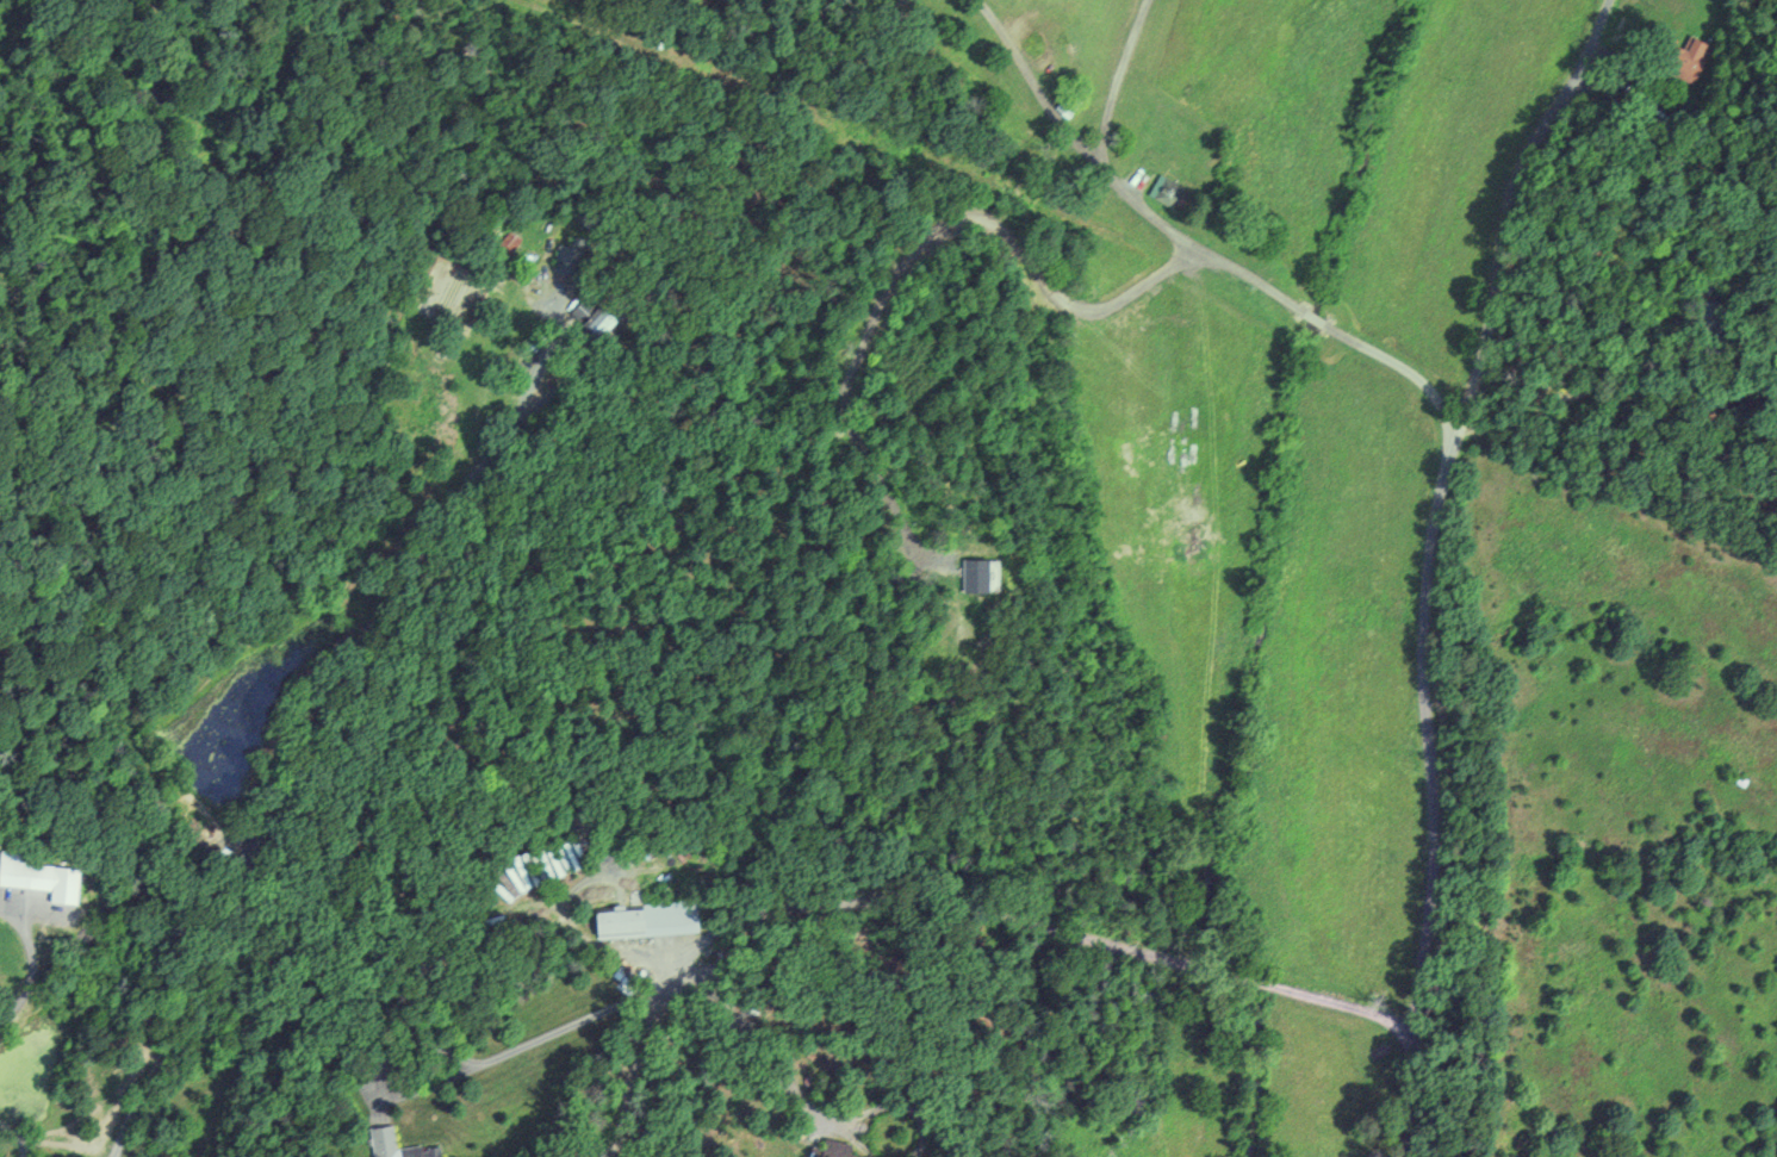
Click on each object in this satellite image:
road: (1118, 83)
building: (1068, 105)
road: (1114, 182)
building: (509, 242)
building: (567, 259)
road: (1315, 319)
road: (1404, 371)
road: (1429, 562)
road: (293, 778)
building: (24, 872)
building: (646, 920)
road: (734, 926)
road: (33, 966)
road: (1262, 984)
road: (1342, 1007)
road: (757, 1044)
road: (896, 1106)
building: (381, 1136)
road: (14, 1138)
road: (851, 1142)
building: (837, 1149)

